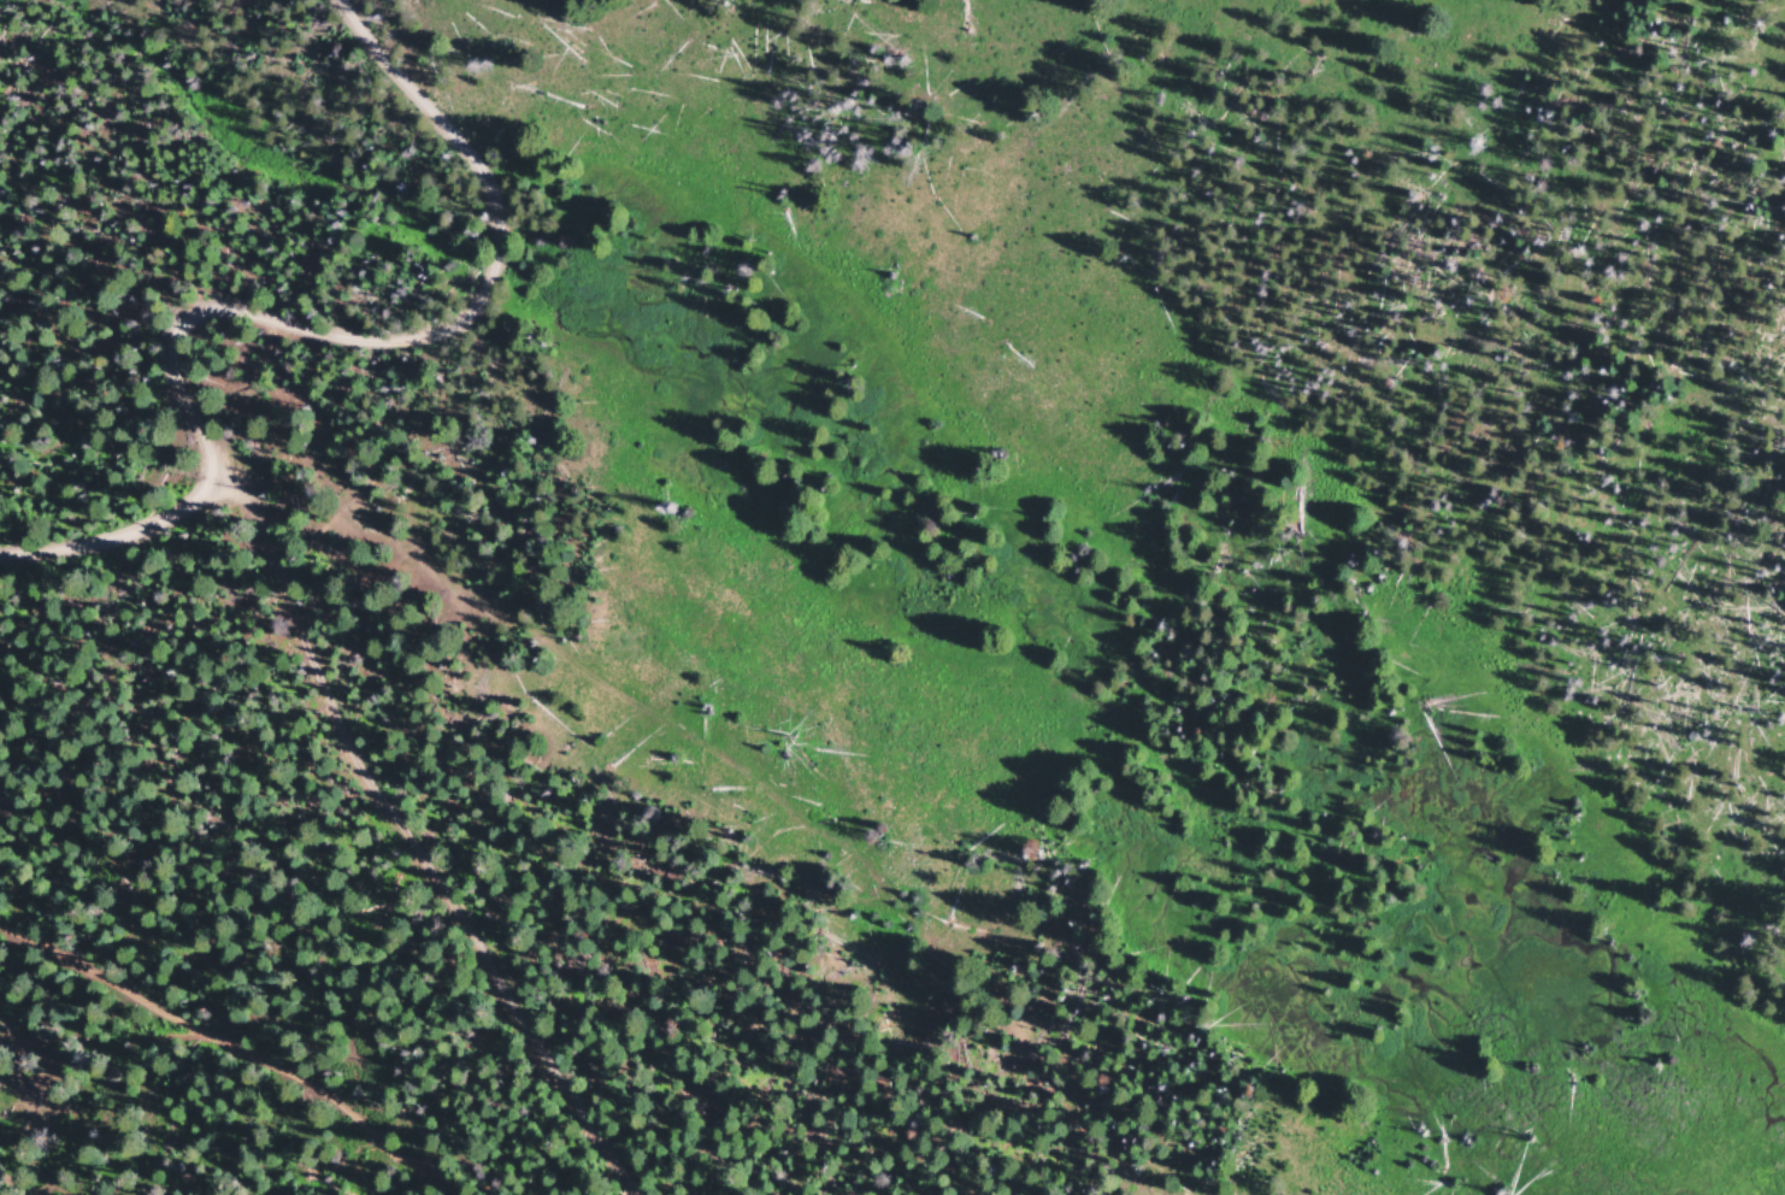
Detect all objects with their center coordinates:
road: (442, 111)
road: (195, 340)
road: (795, 667)
road: (267, 1005)

